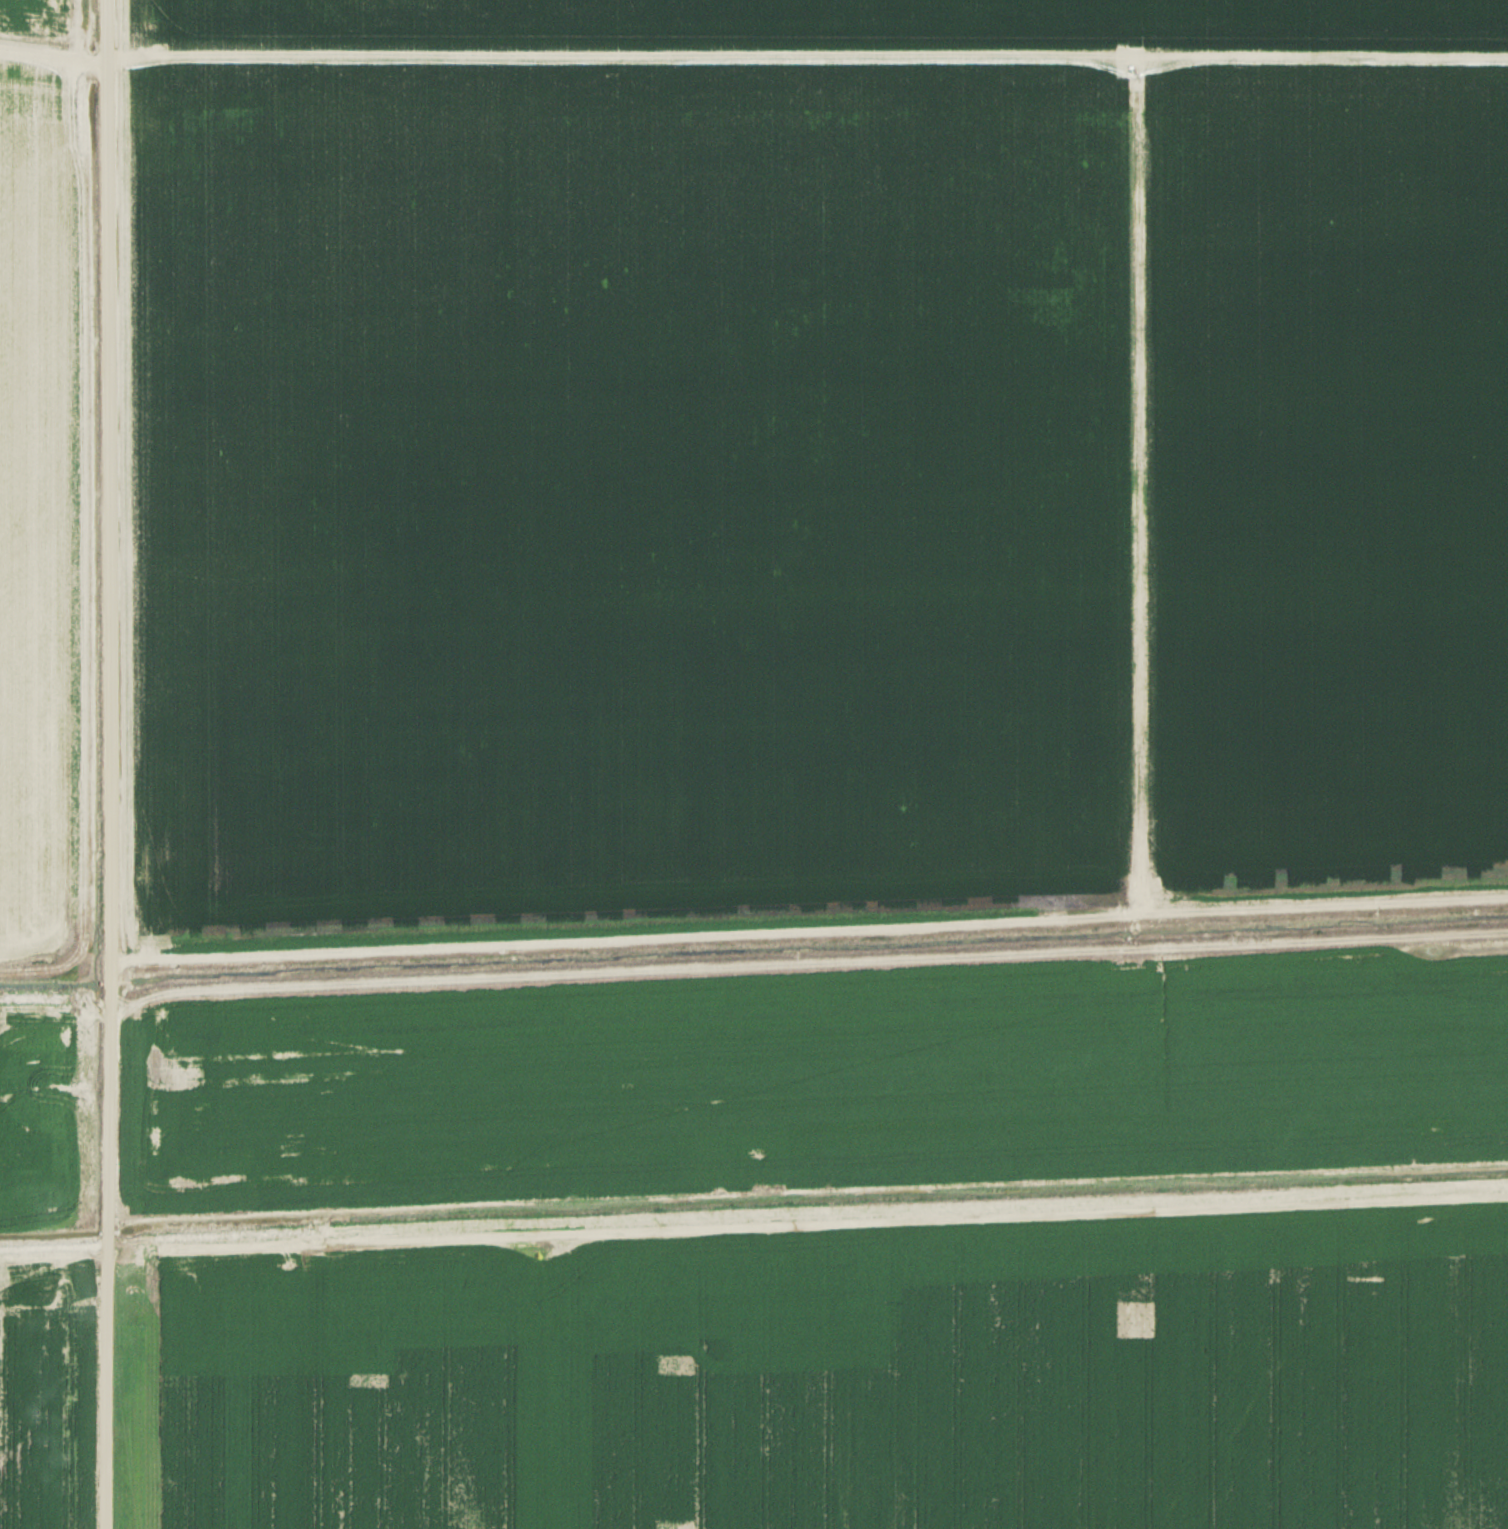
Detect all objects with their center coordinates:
road: (113, 764)

